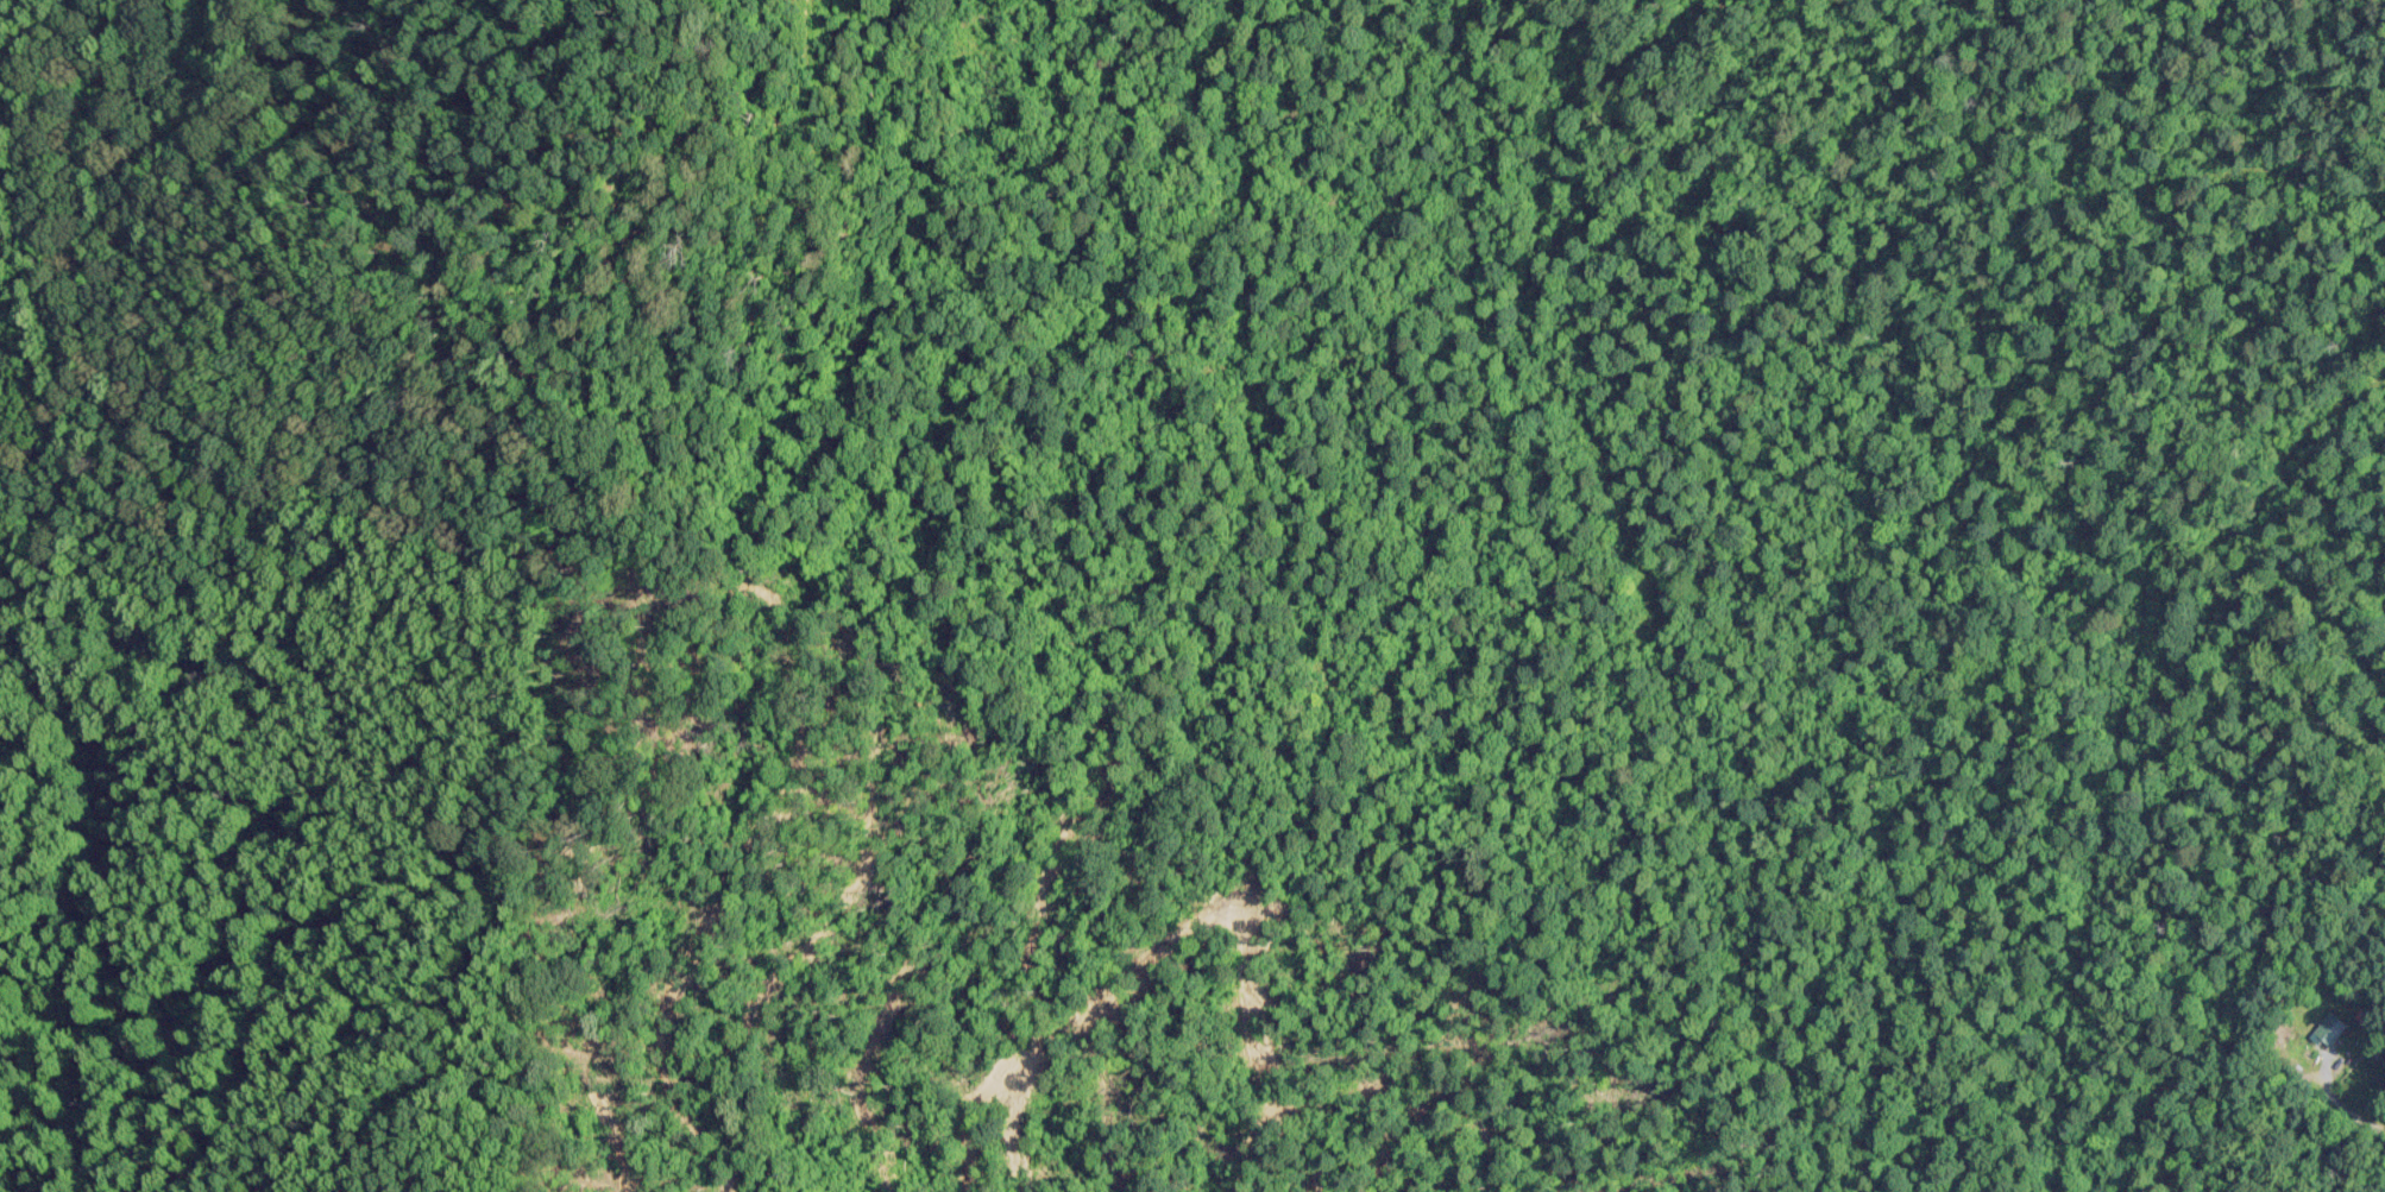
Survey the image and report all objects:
road: (2298, 686)

